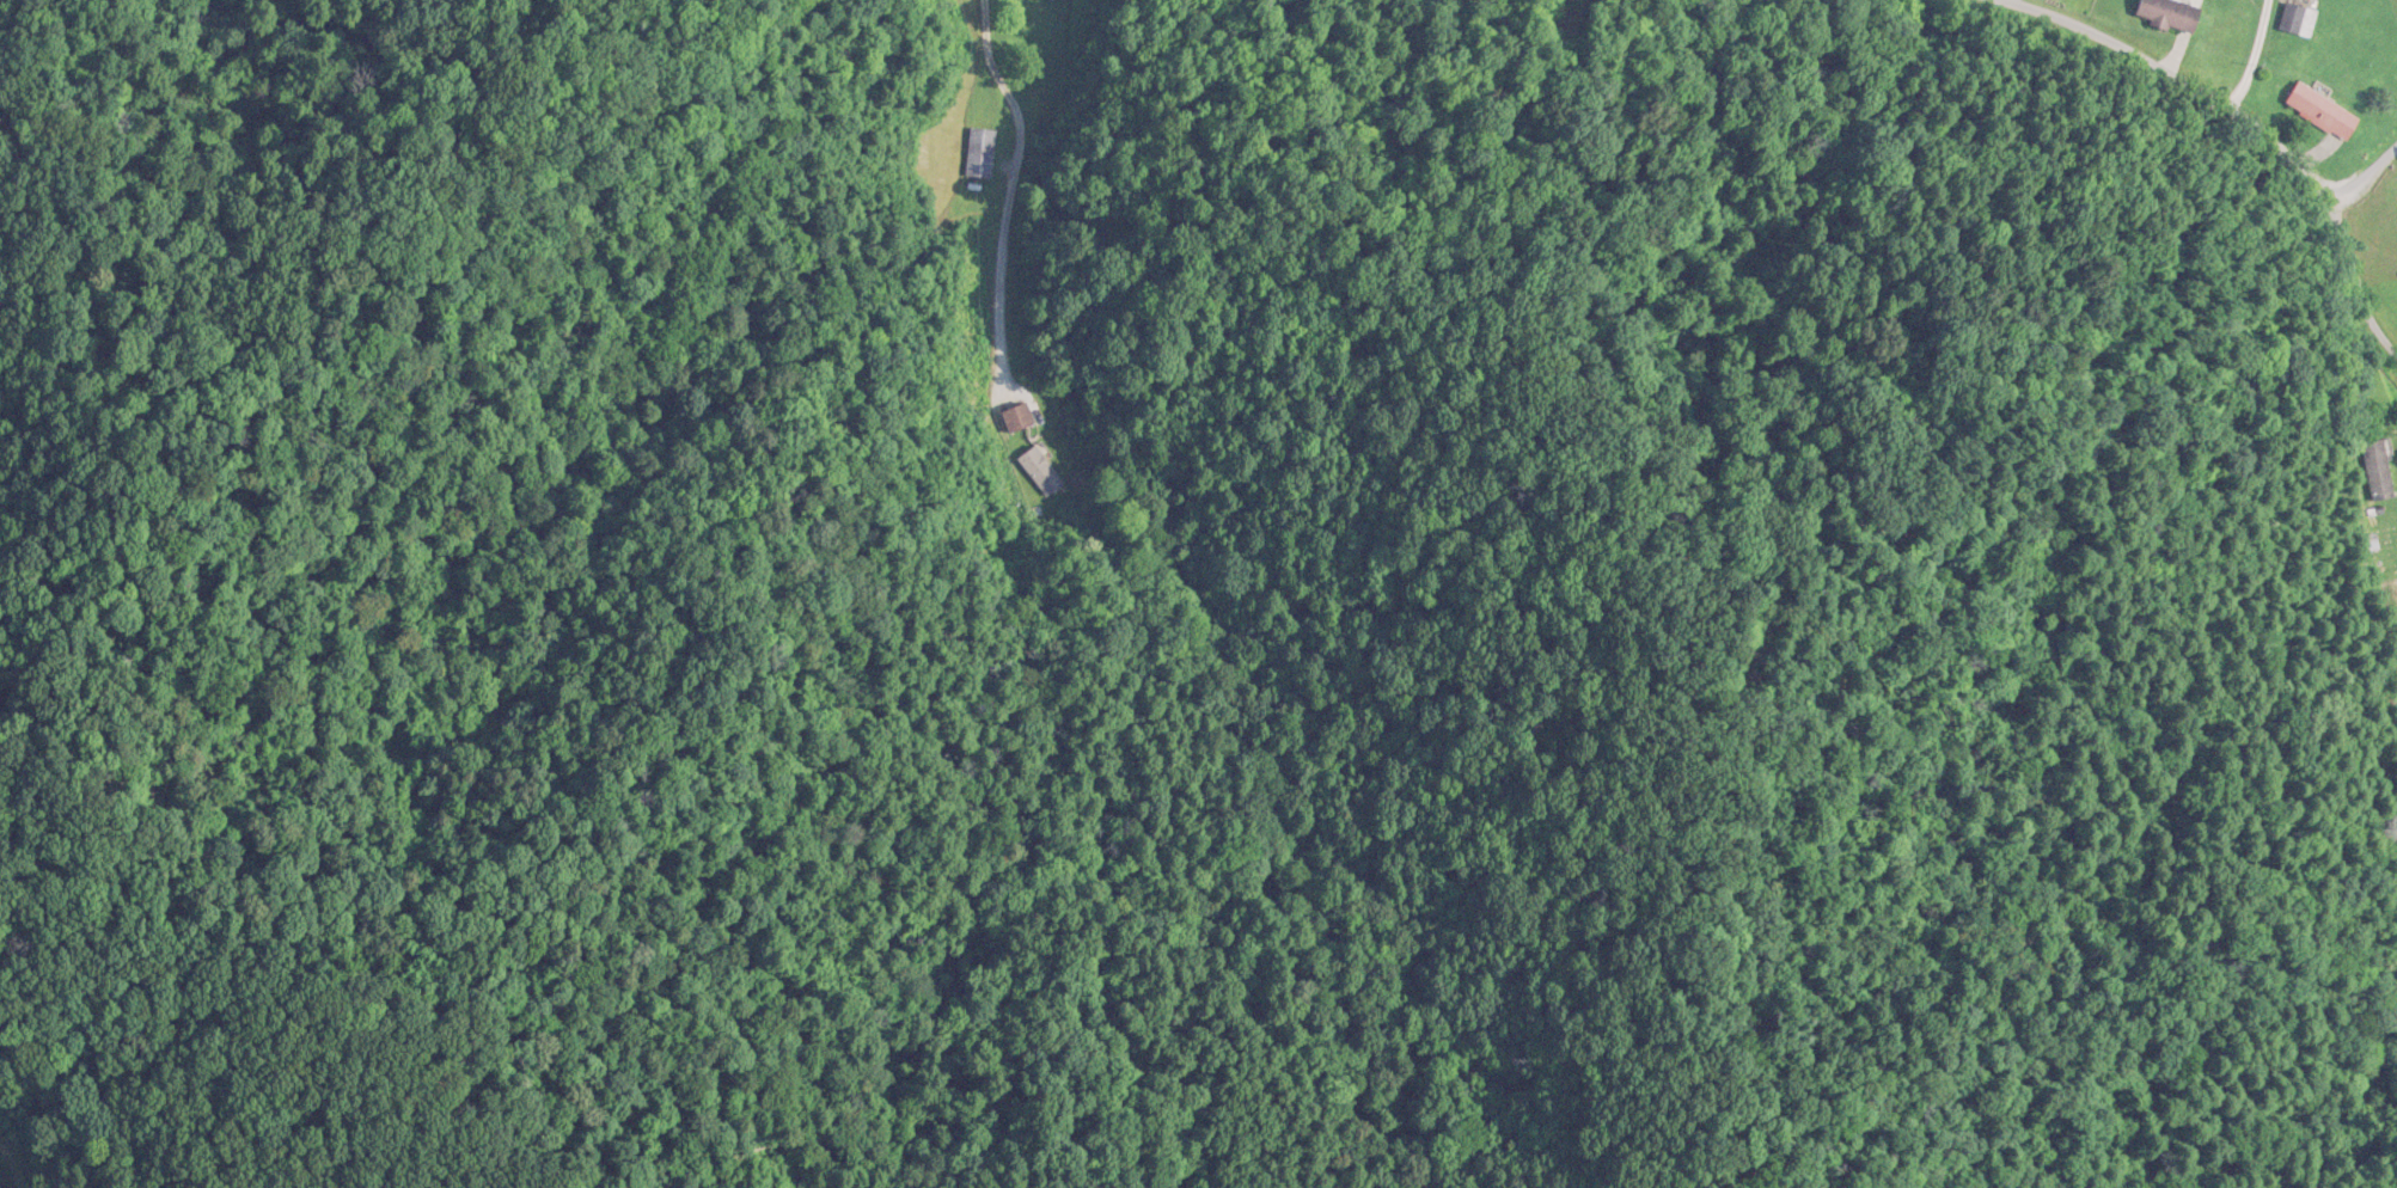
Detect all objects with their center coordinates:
building: (2298, 22)
road: (2251, 59)
road: (2265, 141)
road: (2352, 154)
building: (2391, 553)

